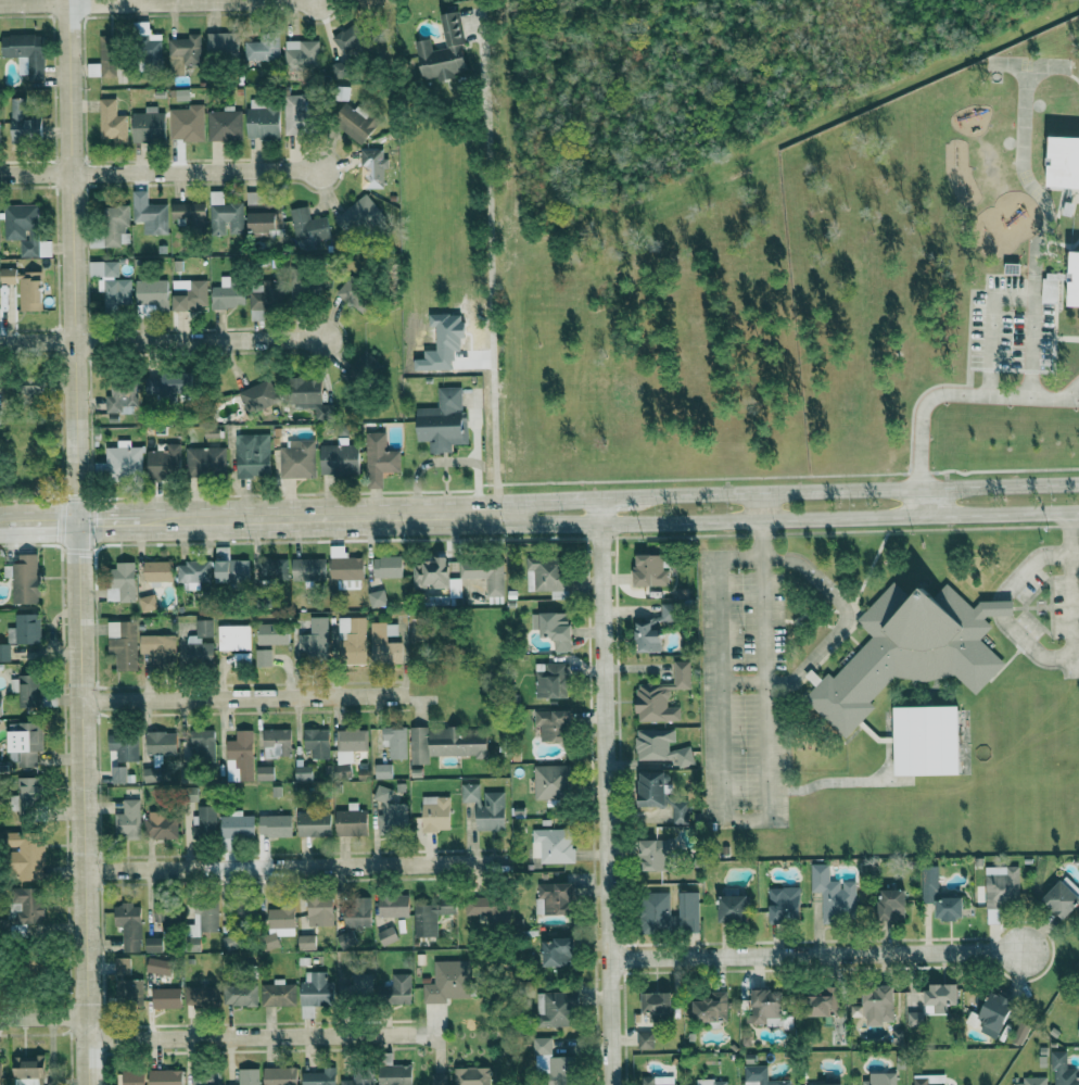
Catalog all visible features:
road: (193, 1)
road: (34, 2)
building: (368, 5)
building: (147, 42)
building: (223, 46)
building: (262, 49)
building: (345, 50)
building: (25, 52)
building: (183, 52)
building: (443, 53)
building: (181, 94)
building: (297, 115)
building: (263, 118)
building: (24, 122)
building: (112, 122)
building: (355, 122)
building: (187, 123)
building: (148, 125)
building: (224, 125)
building: (1064, 160)
building: (372, 167)
road: (160, 172)
building: (149, 214)
building: (262, 214)
building: (189, 215)
building: (360, 215)
building: (111, 226)
building: (308, 227)
road: (488, 264)
building: (1074, 277)
building: (111, 283)
building: (25, 287)
building: (1051, 287)
building: (152, 292)
building: (228, 292)
building: (189, 294)
building: (354, 297)
road: (1014, 297)
road: (161, 341)
building: (367, 362)
building: (162, 384)
road: (960, 394)
building: (258, 395)
building: (307, 395)
building: (120, 398)
road: (1077, 399)
building: (0, 415)
building: (443, 421)
road: (75, 434)
building: (253, 455)
building: (339, 457)
building: (297, 458)
building: (379, 458)
building: (205, 461)
road: (452, 461)
building: (122, 462)
building: (165, 462)
road: (773, 492)
road: (919, 502)
road: (312, 515)
road: (116, 519)
road: (773, 519)
road: (42, 520)
road: (4, 521)
road: (1075, 553)
road: (1029, 565)
building: (388, 566)
building: (230, 568)
building: (272, 568)
building: (308, 569)
building: (650, 570)
building: (157, 571)
building: (192, 571)
building: (485, 575)
building: (546, 575)
building: (23, 577)
building: (436, 577)
building: (124, 580)
road: (1071, 586)
building: (377, 598)
building: (148, 603)
road: (1001, 608)
building: (644, 624)
building: (555, 628)
building: (25, 629)
building: (272, 633)
road: (837, 634)
building: (233, 638)
building: (315, 638)
building: (352, 640)
building: (200, 643)
building: (123, 644)
building: (385, 644)
building: (158, 647)
road: (1031, 647)
building: (910, 651)
building: (4, 652)
building: (263, 658)
building: (550, 680)
building: (30, 691)
building: (662, 695)
road: (243, 698)
building: (0, 706)
building: (551, 724)
building: (25, 741)
building: (927, 741)
building: (317, 742)
building: (395, 742)
building: (161, 743)
building: (277, 743)
building: (447, 743)
building: (125, 746)
building: (661, 746)
building: (348, 748)
building: (240, 757)
building: (383, 771)
building: (265, 772)
building: (303, 772)
building: (118, 774)
building: (551, 781)
building: (651, 788)
road: (605, 791)
building: (28, 795)
building: (485, 806)
building: (389, 811)
building: (435, 813)
building: (681, 813)
road: (760, 819)
building: (128, 820)
building: (204, 820)
building: (351, 821)
building: (162, 824)
building: (314, 824)
building: (237, 825)
building: (275, 825)
building: (553, 845)
building: (656, 855)
building: (28, 856)
road: (292, 867)
building: (1001, 885)
building: (833, 894)
building: (940, 896)
building: (555, 897)
building: (1063, 897)
building: (393, 905)
building: (784, 905)
building: (891, 905)
building: (733, 906)
building: (26, 907)
building: (490, 908)
building: (319, 910)
building: (655, 911)
building: (357, 912)
building: (687, 912)
building: (431, 916)
building: (204, 919)
building: (129, 925)
building: (278, 926)
building: (386, 935)
building: (231, 942)
road: (84, 943)
building: (306, 943)
building: (154, 944)
building: (557, 952)
road: (815, 955)
building: (123, 966)
building: (160, 968)
building: (447, 982)
building: (357, 987)
building: (128, 989)
building: (395, 991)
building: (315, 993)
building: (240, 994)
building: (278, 994)
building: (202, 996)
building: (165, 998)
building: (939, 998)
building: (656, 1004)
building: (823, 1004)
building: (878, 1005)
building: (711, 1008)
building: (555, 1009)
building: (767, 1009)
road: (42, 1017)
building: (914, 1019)
building: (1078, 1034)
road: (250, 1036)
building: (645, 1040)
road: (87, 1050)
building: (551, 1064)
building: (29, 1070)
building: (1063, 1070)
building: (0, 1075)
building: (280, 1075)
building: (206, 1076)
building: (249, 1076)
building: (471, 1076)
building: (760, 1076)
building: (134, 1077)
building: (165, 1077)
building: (319, 1077)
building: (437, 1078)
building: (880, 1078)
building: (929, 1080)
building: (356, 1081)
building: (658, 1081)
building: (1032, 1081)
building: (712, 1082)
building: (824, 1084)

